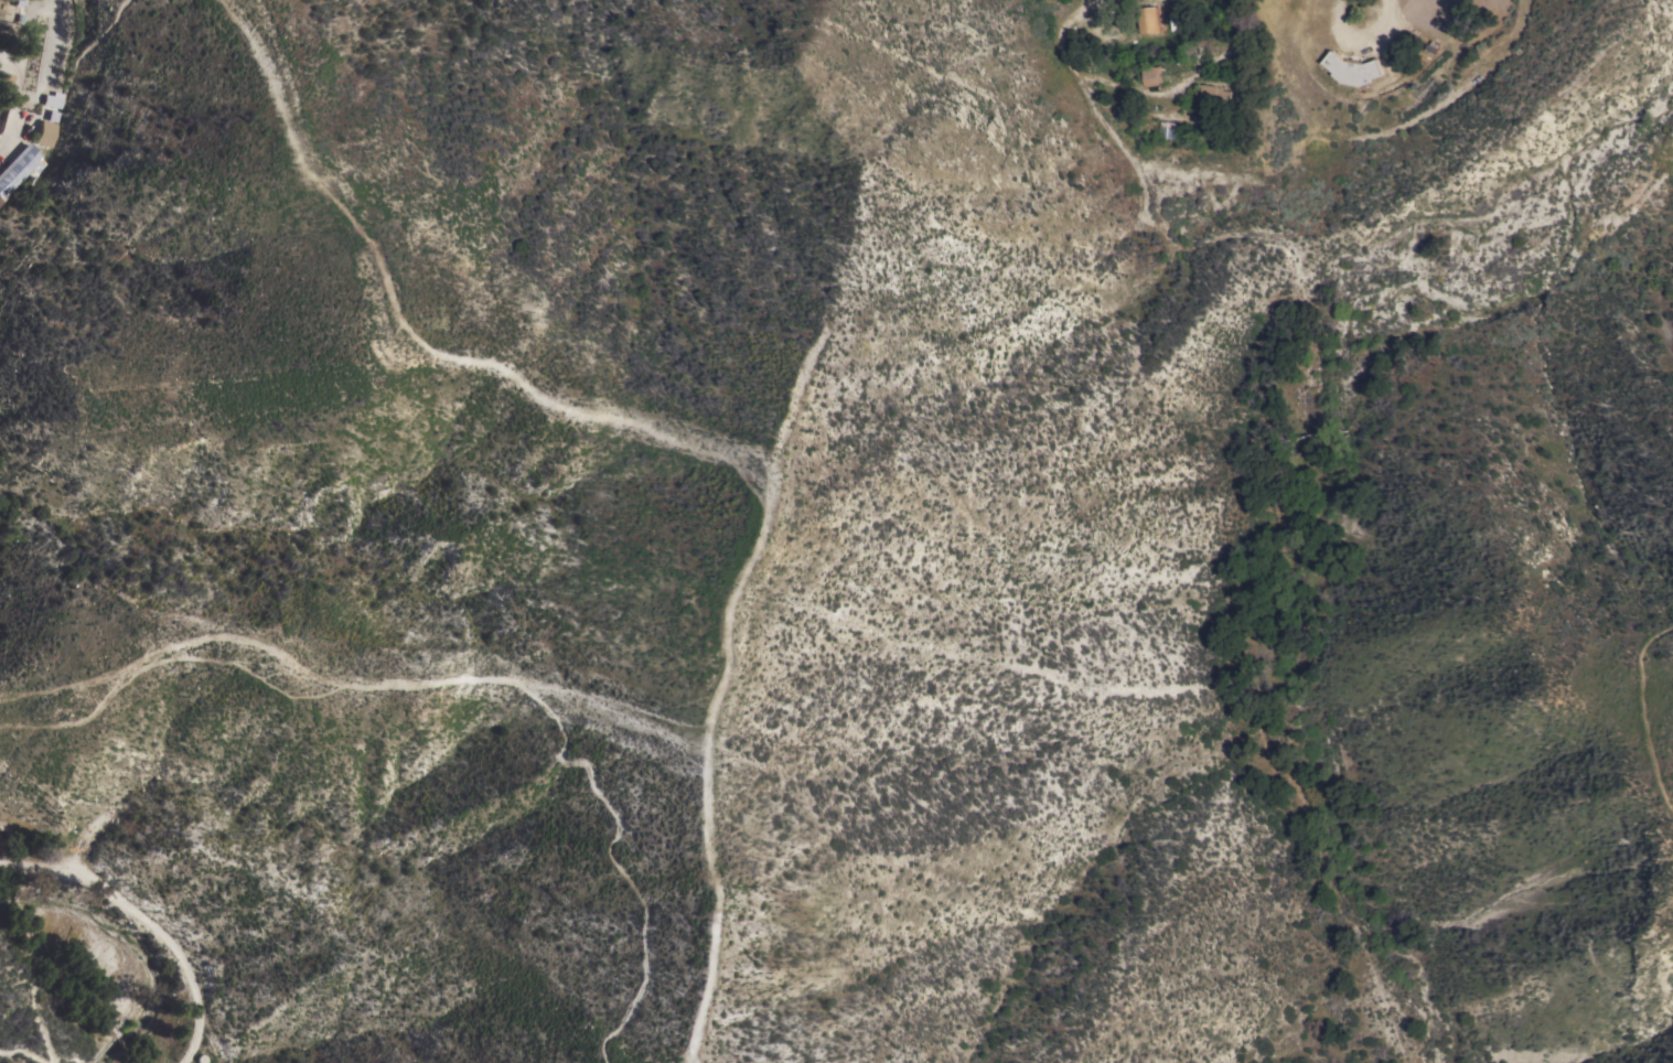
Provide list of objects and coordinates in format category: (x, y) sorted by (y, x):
building: (1147, 19)
road: (1364, 37)
building: (1351, 68)
building: (1152, 74)
building: (4, 80)
building: (1214, 96)
building: (53, 98)
building: (1166, 128)
building: (46, 133)
building: (19, 167)
road: (1643, 710)

